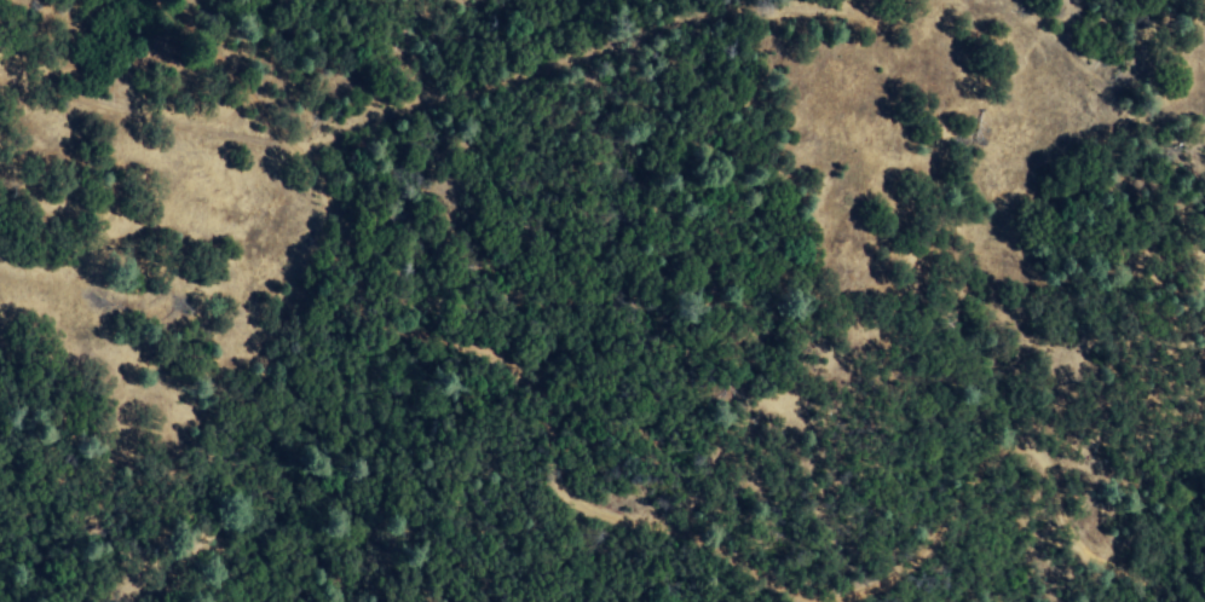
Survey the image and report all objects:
road: (537, 406)
park: (743, 461)
road: (962, 544)
road: (1119, 577)

